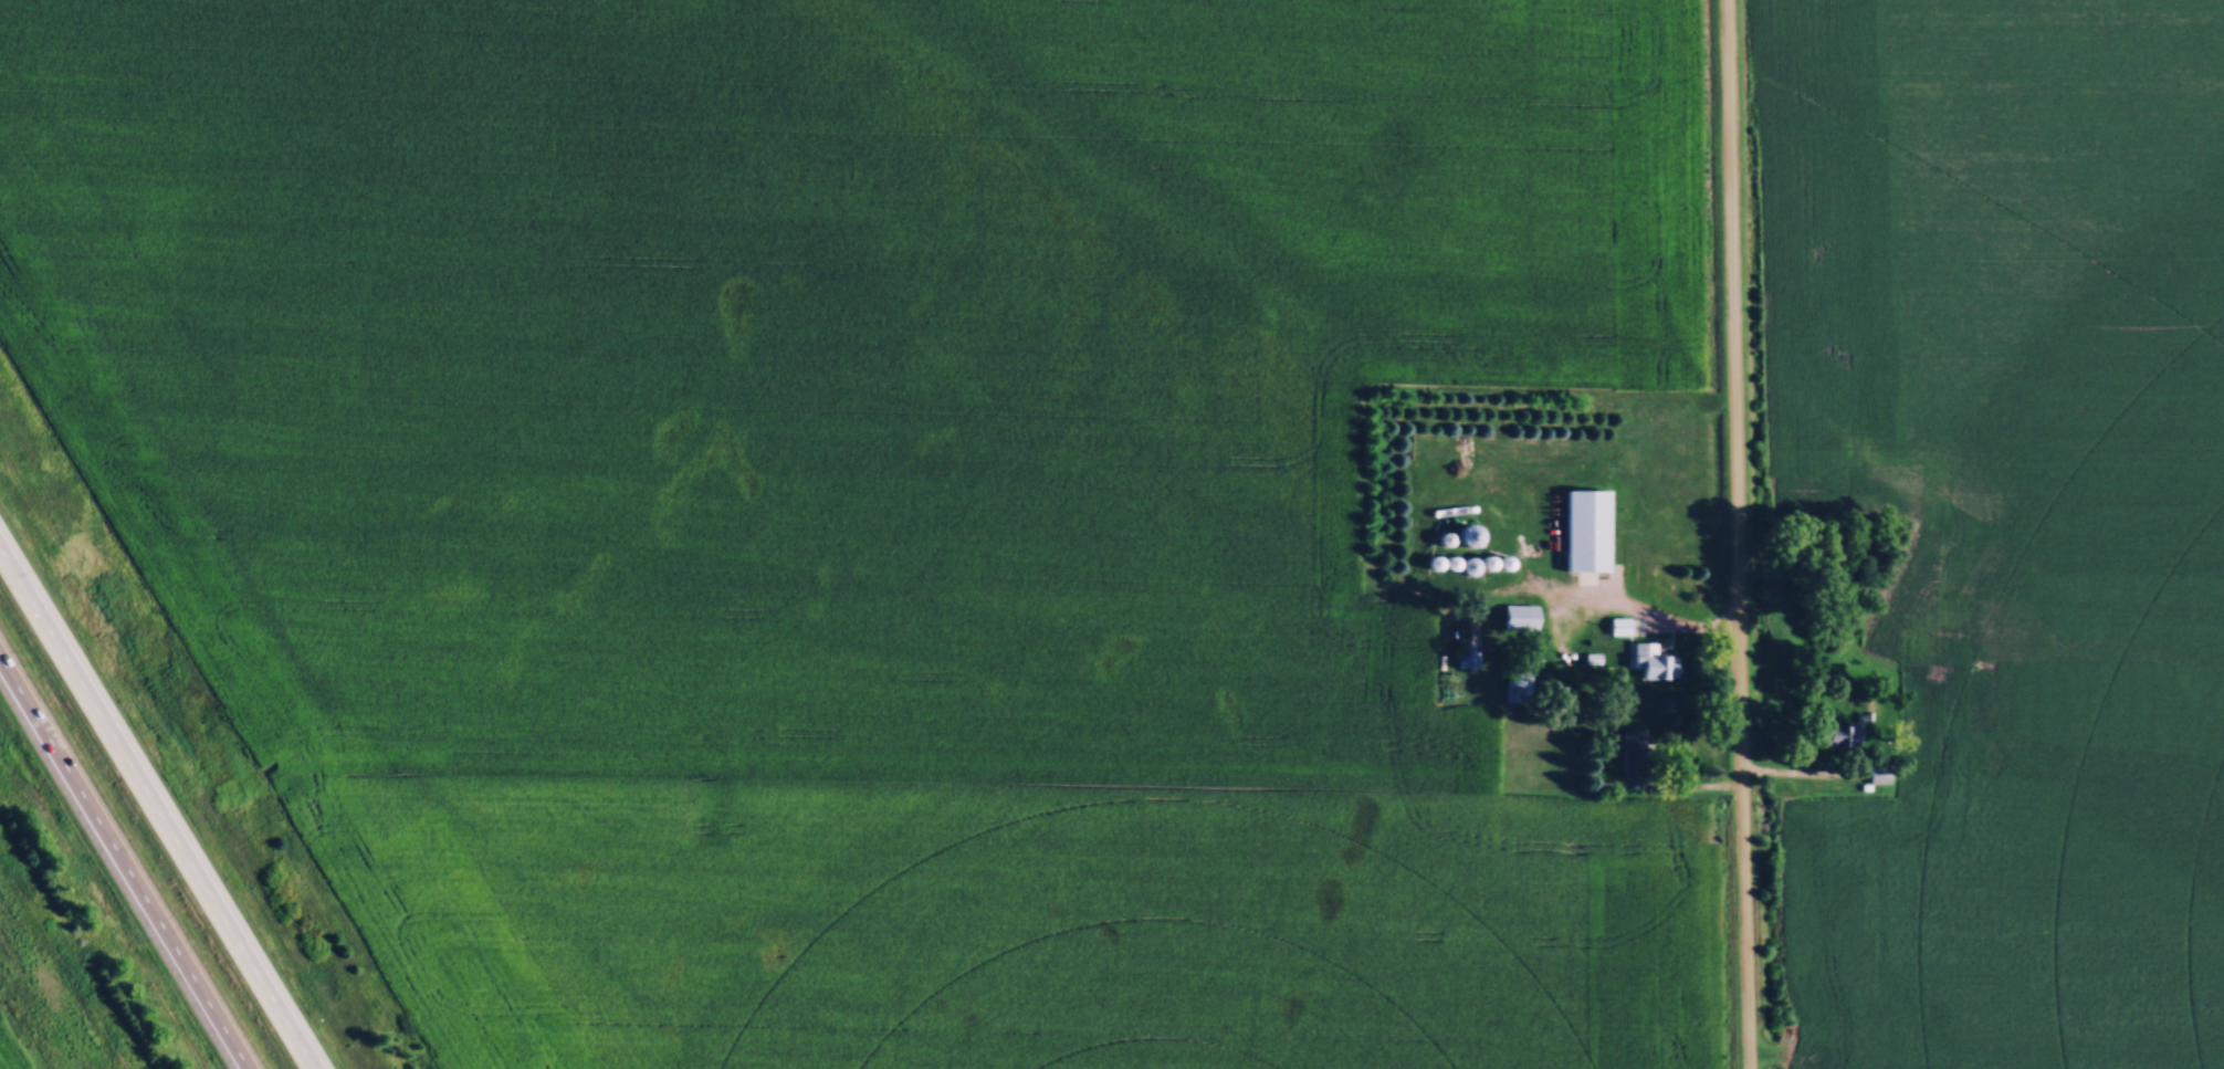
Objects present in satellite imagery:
building: (1587, 528)
road: (1734, 534)
building: (1469, 535)
building: (1462, 564)
building: (1520, 616)
road: (1646, 618)
building: (1467, 660)
building: (1651, 661)
building: (1518, 684)
building: (1839, 734)
building: (1634, 747)
road: (1804, 774)
road: (156, 808)
road: (122, 866)

